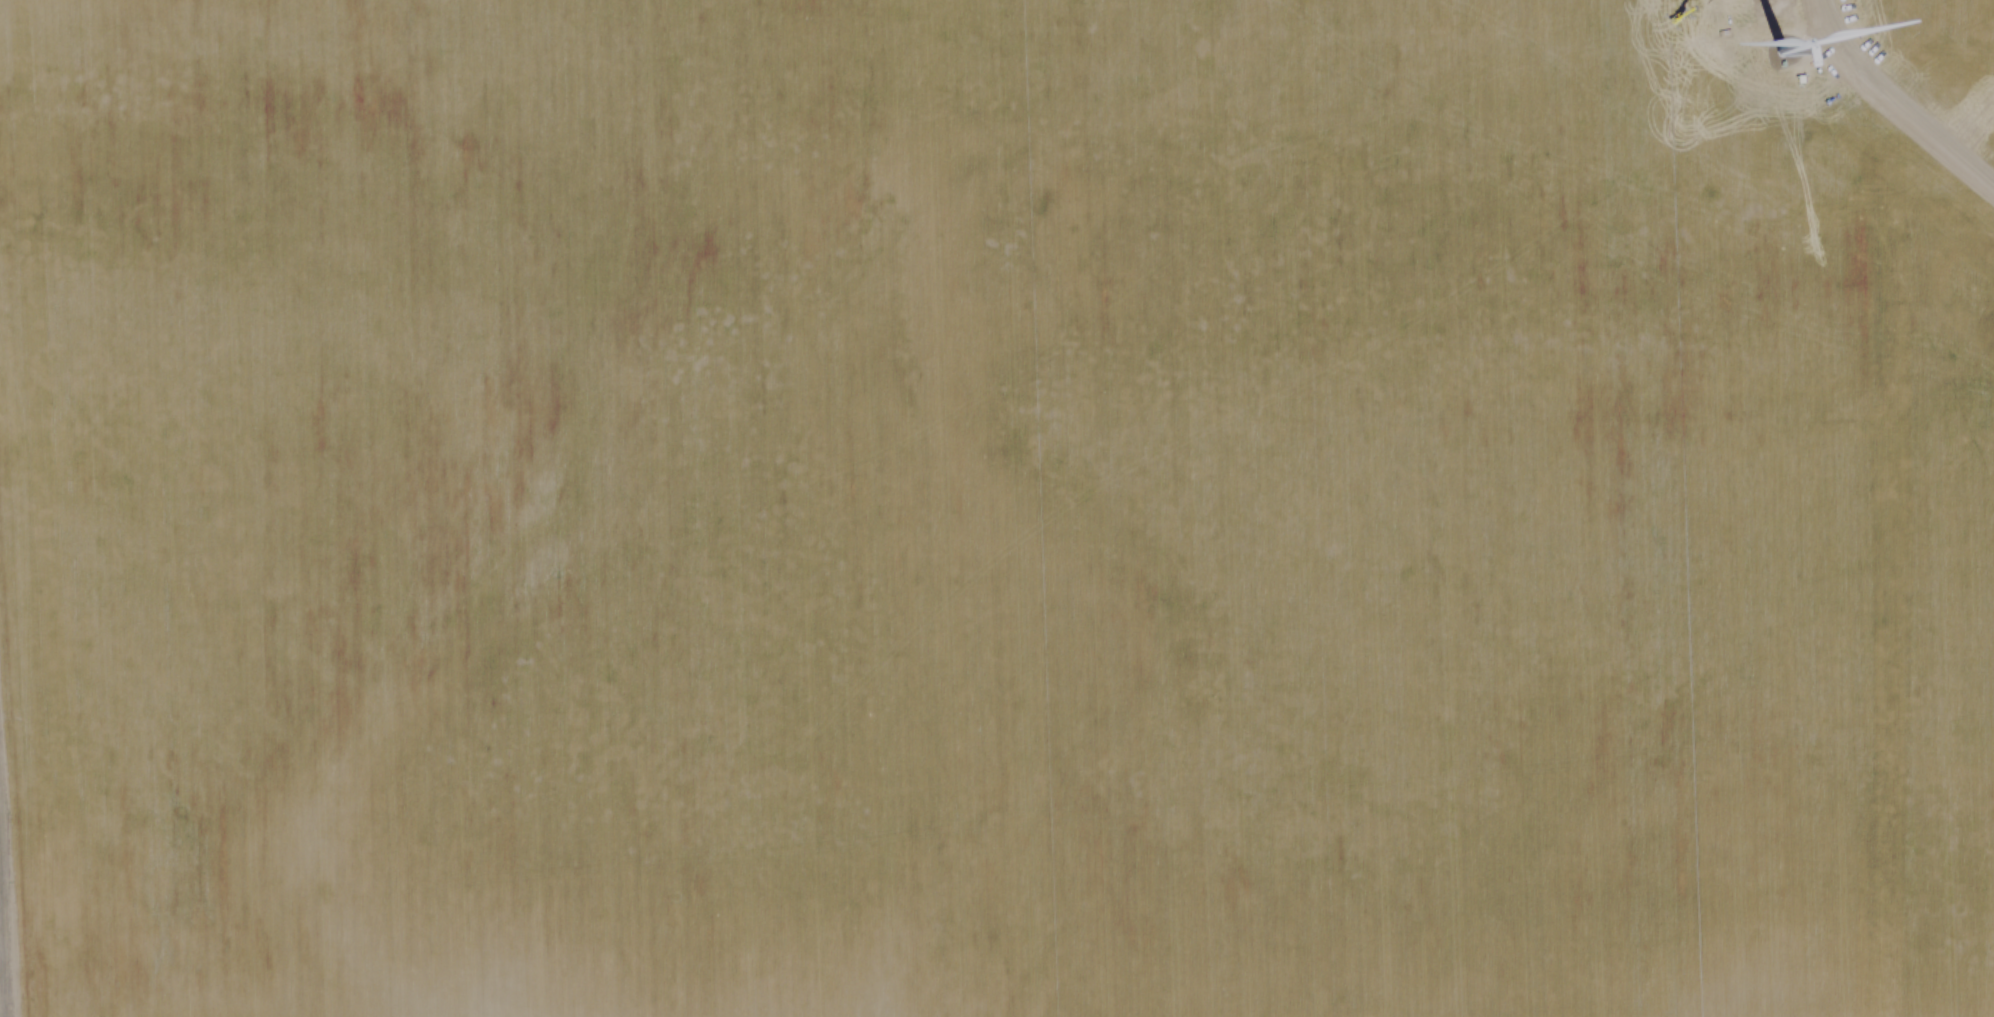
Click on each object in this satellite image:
wind turbine: (1775, 62)
road: (1901, 95)

